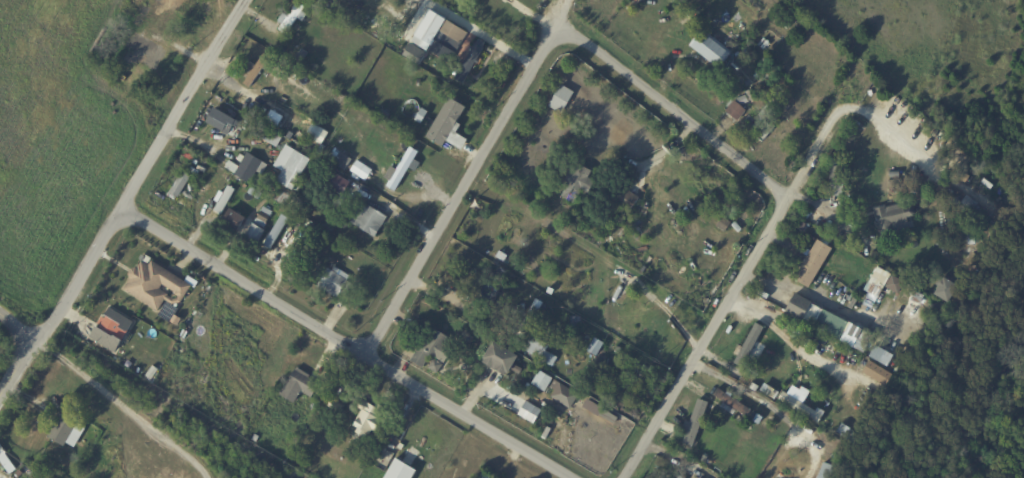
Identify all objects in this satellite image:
building: (632, 5)
building: (141, 17)
building: (291, 19)
road: (563, 19)
building: (698, 22)
building: (803, 23)
building: (427, 30)
building: (450, 39)
building: (145, 52)
building: (709, 52)
building: (301, 57)
building: (469, 65)
building: (257, 72)
road: (533, 78)
building: (446, 79)
building: (749, 97)
building: (560, 100)
building: (741, 103)
building: (243, 105)
building: (733, 113)
building: (261, 114)
building: (382, 117)
building: (273, 118)
building: (419, 118)
building: (220, 123)
building: (761, 124)
building: (449, 128)
road: (885, 129)
building: (265, 135)
building: (315, 137)
road: (817, 145)
building: (188, 157)
building: (245, 168)
building: (404, 168)
road: (143, 169)
building: (293, 171)
building: (389, 173)
building: (894, 174)
building: (836, 177)
building: (577, 184)
building: (179, 185)
building: (952, 194)
building: (224, 199)
building: (625, 201)
road: (819, 204)
building: (303, 210)
building: (263, 217)
building: (368, 221)
building: (893, 221)
building: (232, 222)
building: (330, 227)
building: (722, 227)
building: (966, 233)
building: (253, 236)
building: (812, 264)
building: (876, 276)
building: (890, 283)
building: (333, 285)
building: (156, 286)
building: (944, 290)
building: (911, 297)
road: (817, 299)
building: (816, 318)
building: (527, 321)
road: (17, 325)
building: (110, 329)
road: (705, 339)
road: (338, 341)
road: (792, 343)
building: (593, 348)
building: (752, 348)
building: (432, 350)
building: (617, 350)
building: (537, 351)
building: (498, 361)
building: (890, 361)
building: (521, 363)
road: (17, 364)
building: (434, 367)
building: (883, 376)
building: (541, 380)
building: (748, 382)
building: (344, 384)
building: (298, 387)
building: (698, 390)
building: (565, 397)
road: (758, 398)
building: (799, 403)
road: (122, 407)
building: (335, 407)
building: (590, 408)
building: (726, 409)
building: (528, 412)
building: (755, 418)
building: (368, 420)
building: (66, 430)
building: (693, 430)
building: (256, 439)
building: (399, 447)
road: (668, 452)
building: (383, 457)
building: (7, 462)
building: (401, 471)
building: (825, 471)
building: (482, 476)
building: (679, 477)

